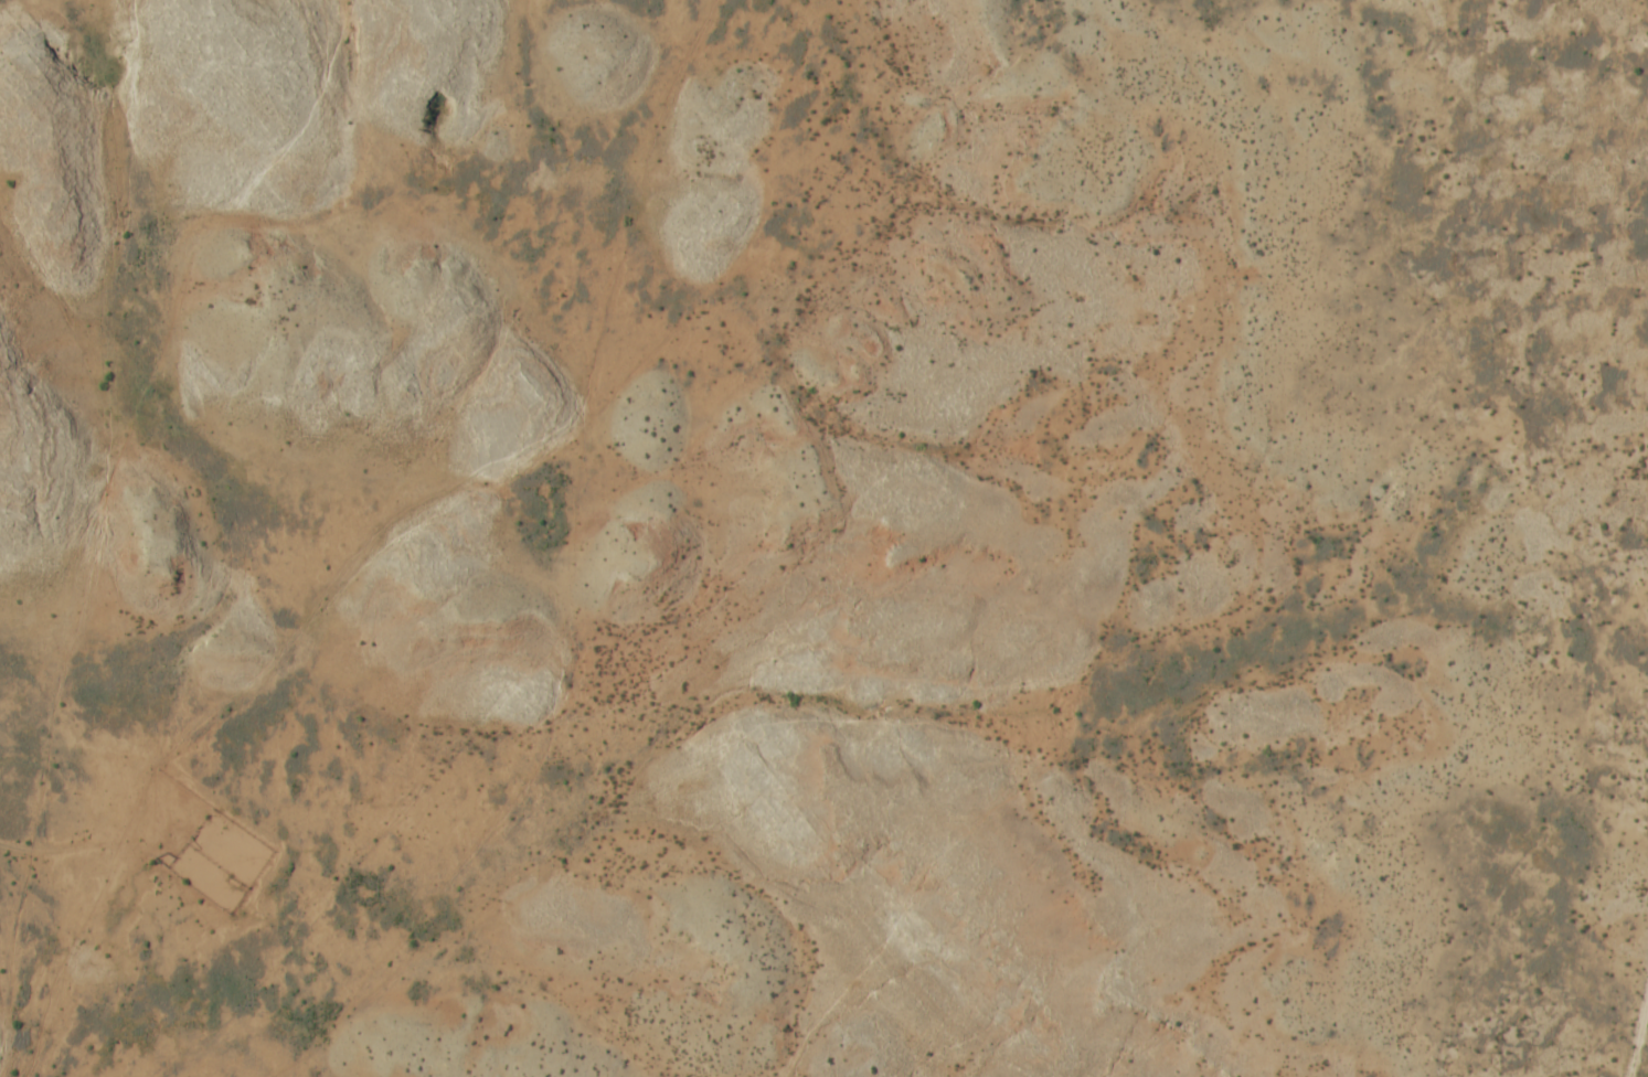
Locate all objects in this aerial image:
road: (44, 844)
road: (1639, 1042)

